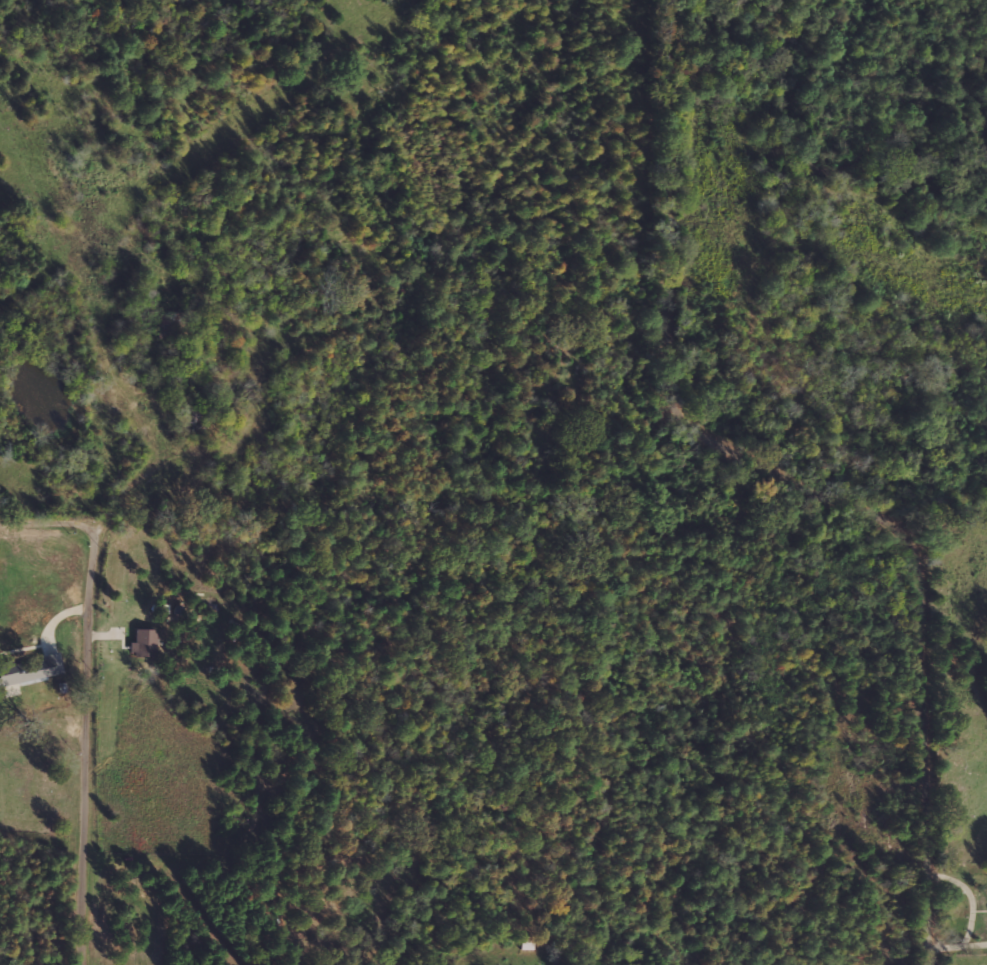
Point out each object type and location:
road: (811, 479)
building: (144, 643)
building: (30, 670)
road: (95, 752)

